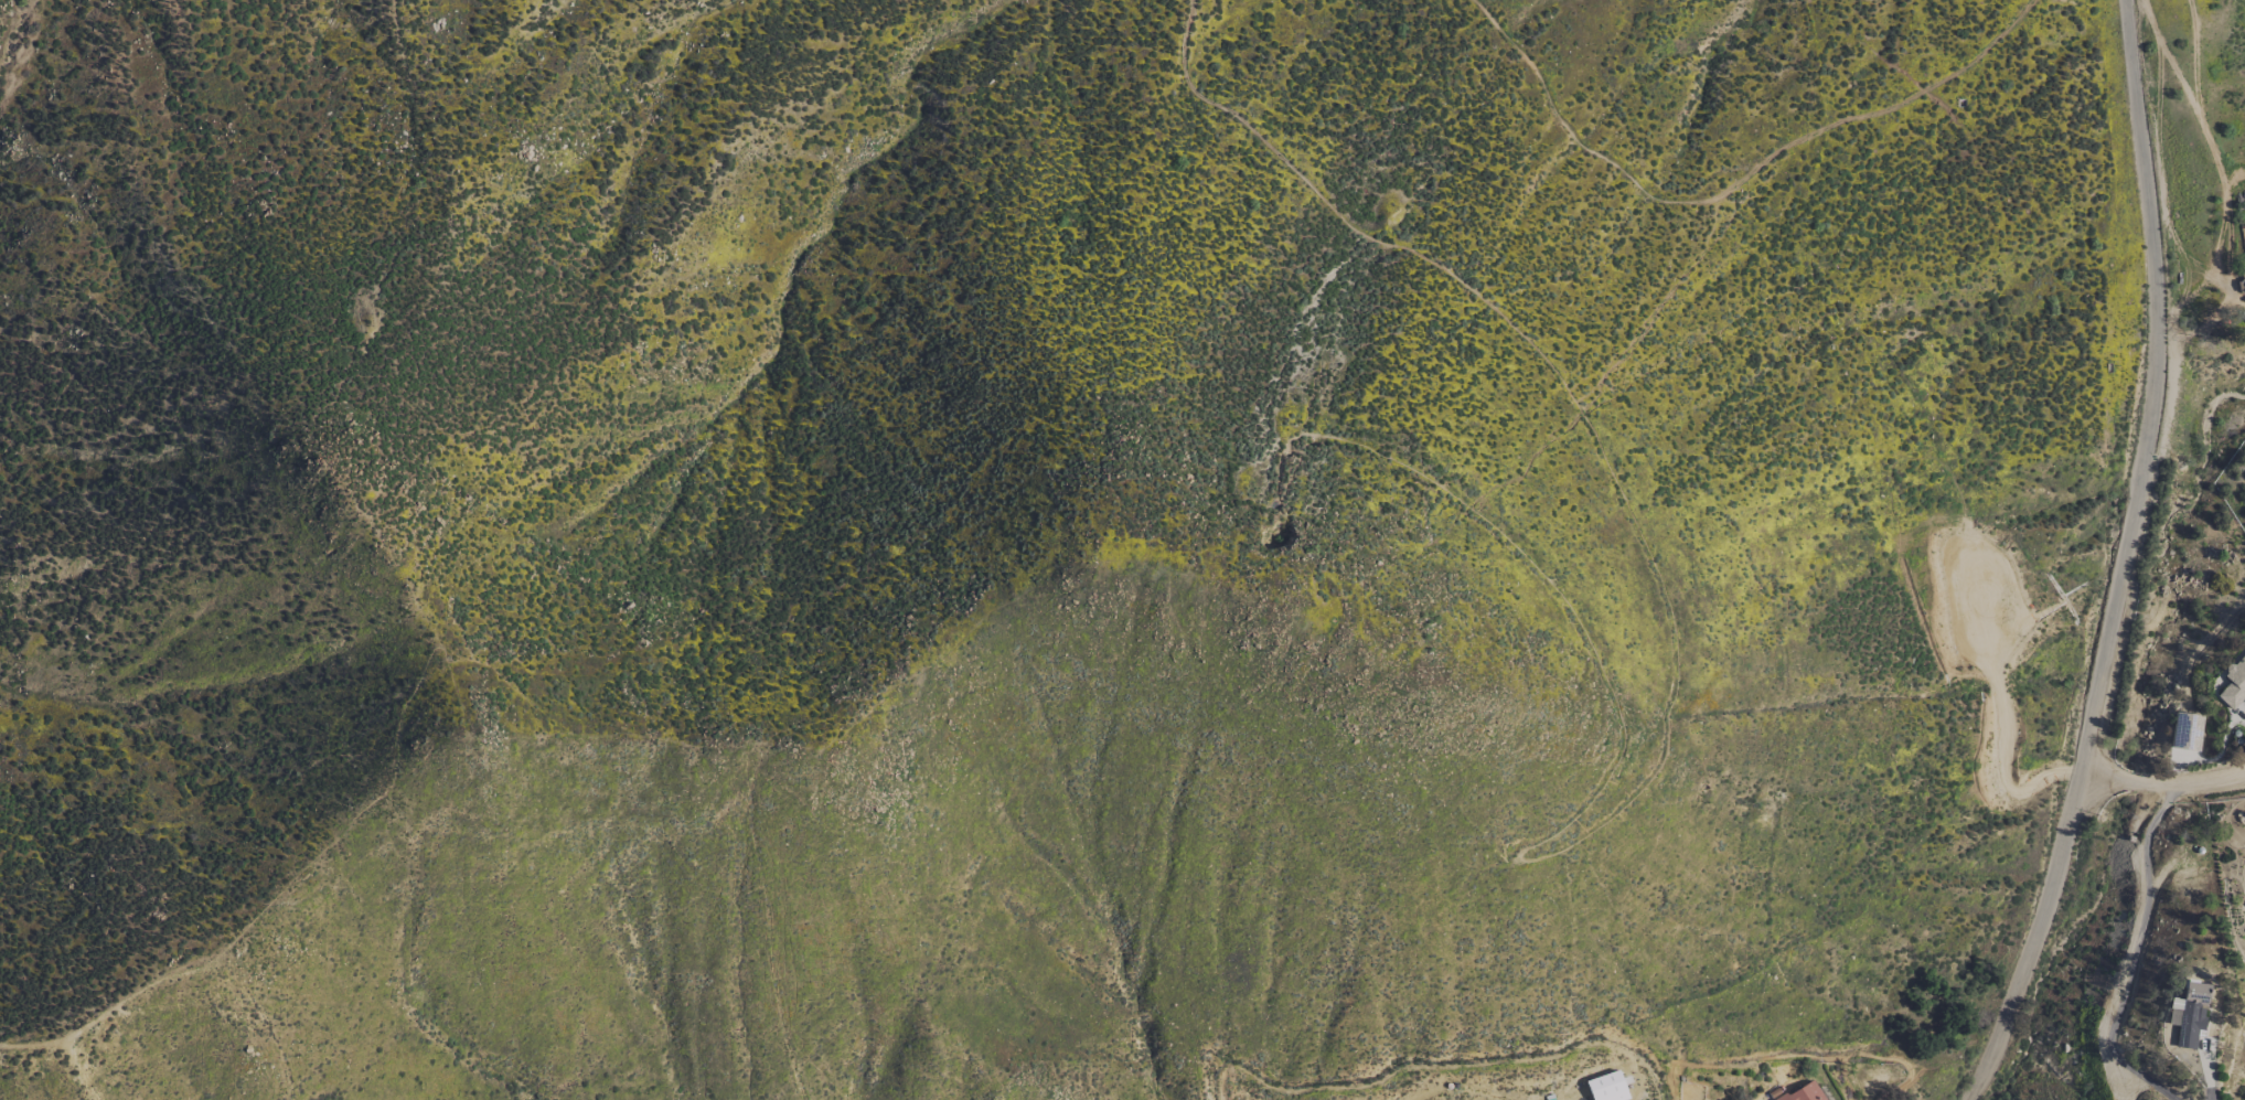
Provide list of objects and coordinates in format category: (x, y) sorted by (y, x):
road: (2132, 562)
building: (2231, 683)
building: (2184, 731)
road: (2168, 780)
road: (2130, 954)
building: (2190, 1014)
building: (1606, 1087)
building: (1802, 1092)

